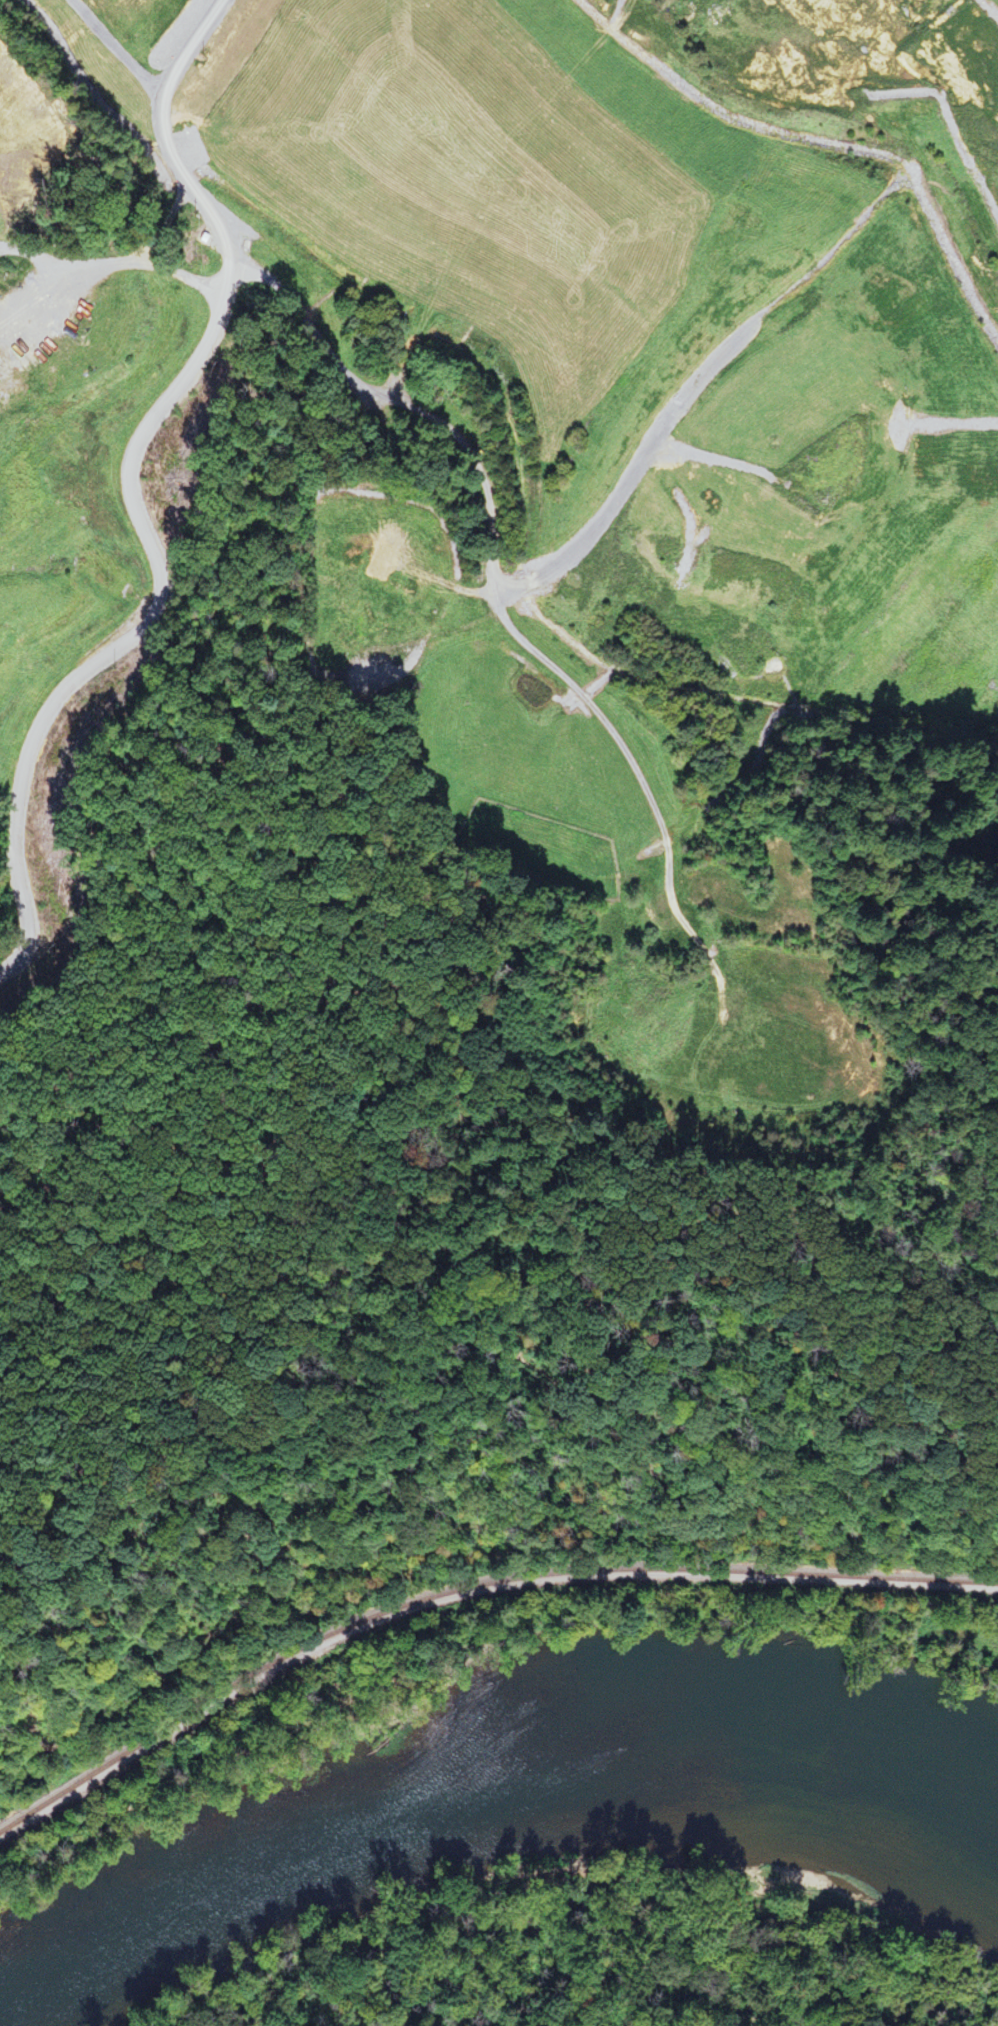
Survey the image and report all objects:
road: (933, 442)
road: (131, 491)
road: (488, 1256)
railway: (471, 1582)
river: (482, 1763)

